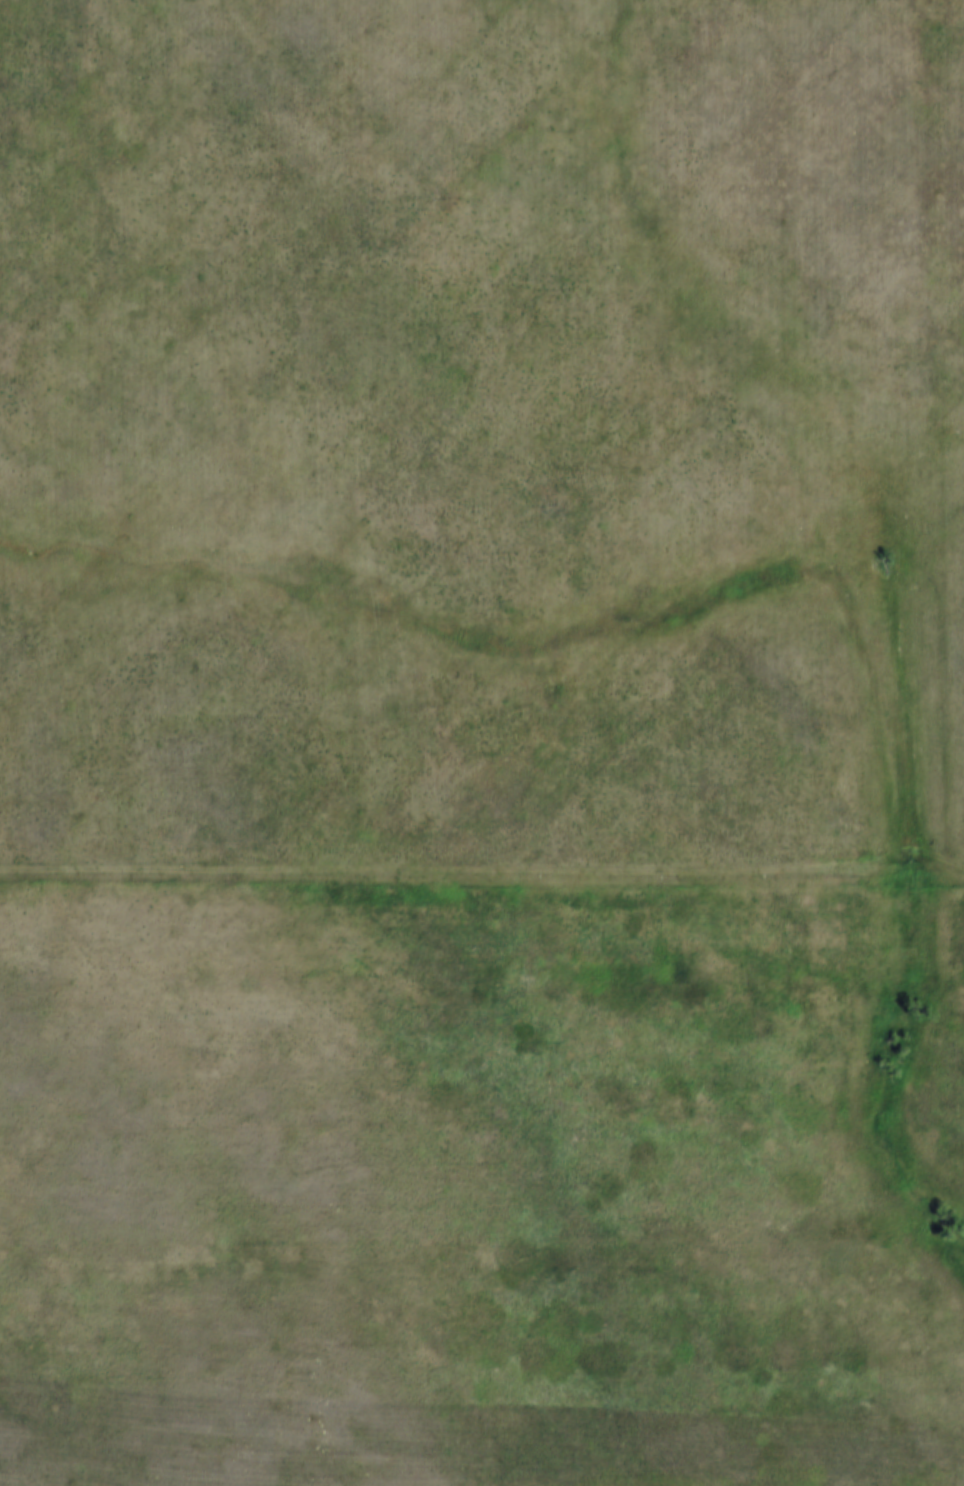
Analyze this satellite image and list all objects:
road: (486, 868)

